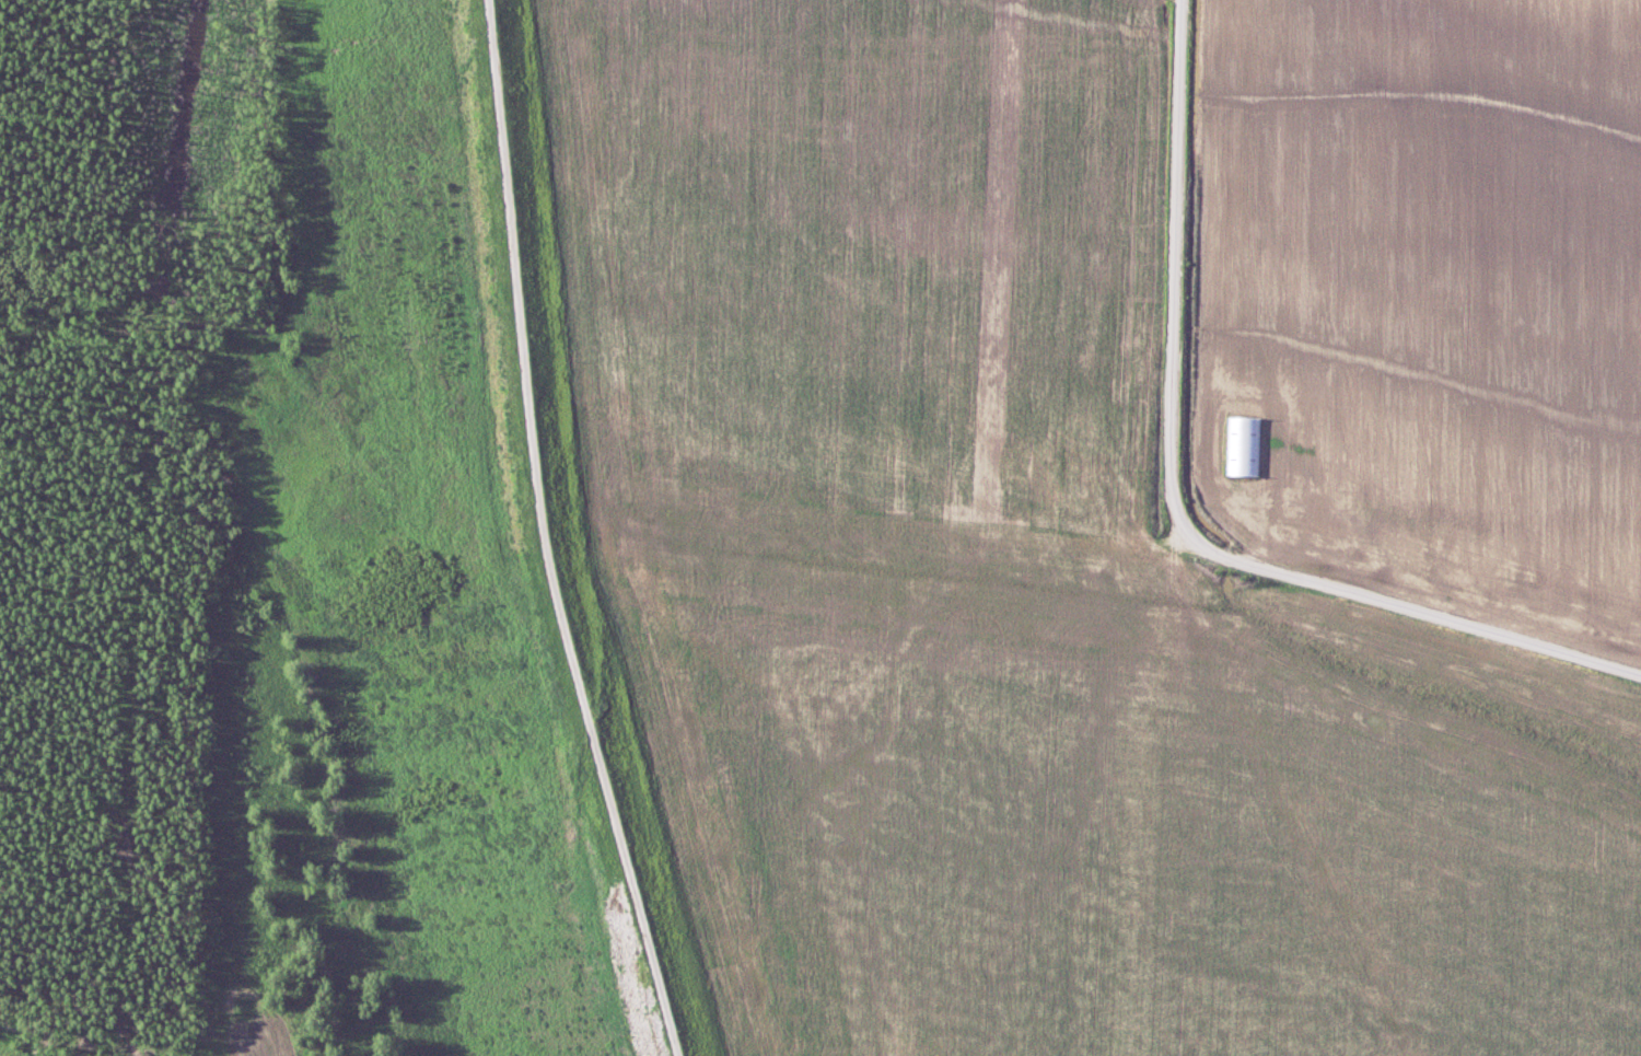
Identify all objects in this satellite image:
road: (1180, 155)
road: (526, 365)
building: (1243, 446)
road: (575, 533)
road: (1304, 578)

